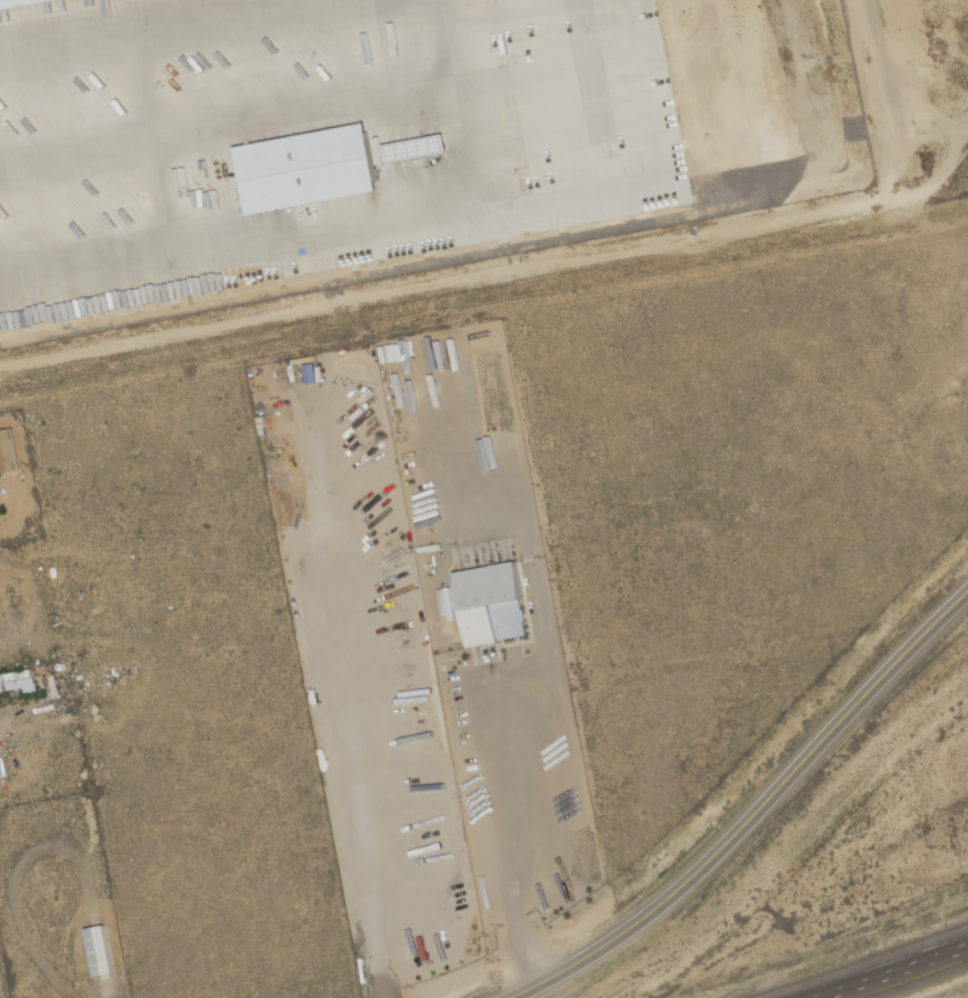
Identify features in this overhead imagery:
building: (13, 2)
building: (305, 166)
building: (8, 453)
building: (487, 587)
building: (509, 621)
building: (479, 628)
building: (17, 682)
road: (757, 807)
road: (518, 835)
building: (98, 951)
road: (892, 971)
road: (106, 990)
road: (524, 996)

